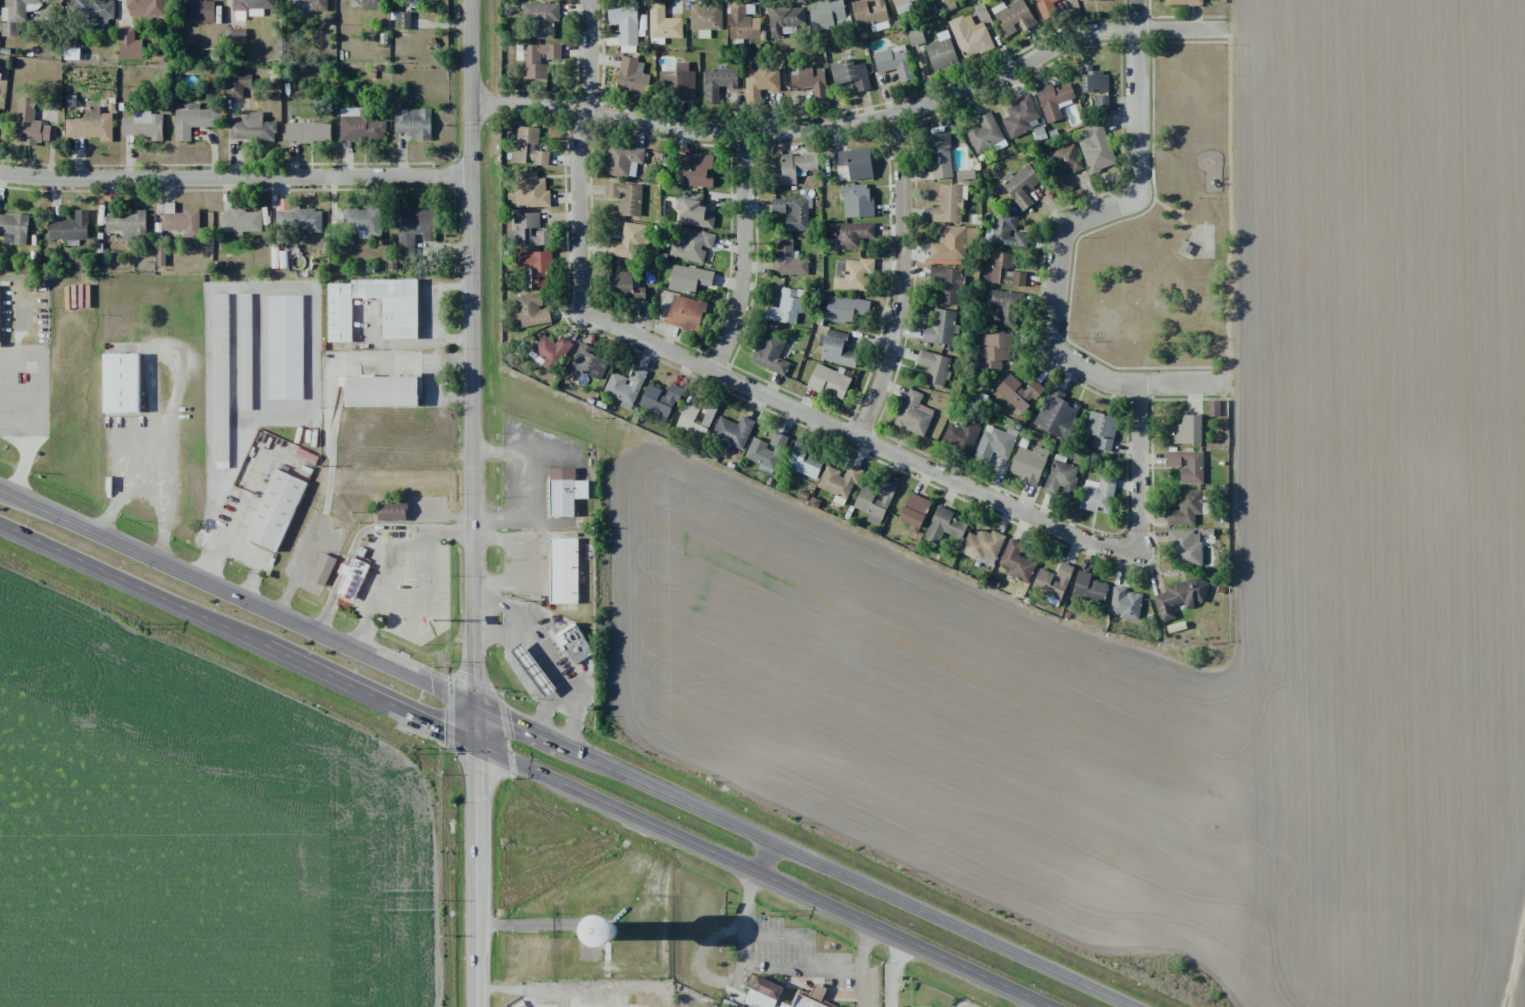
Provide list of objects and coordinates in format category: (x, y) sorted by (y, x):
building: (1091, 0)
building: (1183, 2)
building: (372, 4)
building: (317, 5)
building: (902, 5)
building: (253, 6)
building: (146, 8)
building: (1047, 8)
building: (18, 10)
building: (92, 10)
building: (199, 11)
building: (869, 12)
building: (827, 14)
building: (542, 17)
building: (1014, 18)
building: (705, 19)
building: (403, 20)
building: (784, 20)
building: (663, 23)
building: (742, 24)
building: (624, 25)
building: (915, 36)
building: (970, 36)
building: (129, 45)
building: (201, 49)
building: (941, 53)
building: (538, 59)
building: (894, 62)
building: (850, 74)
building: (632, 77)
building: (807, 79)
building: (1094, 80)
building: (678, 82)
building: (717, 83)
building: (759, 83)
building: (237, 85)
building: (1054, 100)
building: (1101, 102)
building: (1020, 117)
road: (857, 119)
building: (195, 120)
building: (413, 123)
building: (29, 125)
building: (91, 125)
building: (143, 125)
building: (252, 128)
building: (361, 129)
building: (308, 132)
building: (985, 133)
building: (528, 147)
building: (1096, 148)
road: (588, 156)
building: (939, 156)
building: (623, 160)
building: (1065, 164)
building: (853, 165)
building: (794, 168)
building: (697, 170)
road: (236, 178)
building: (1021, 185)
building: (530, 191)
road: (1137, 195)
building: (626, 197)
building: (857, 201)
building: (949, 204)
building: (693, 211)
building: (792, 212)
building: (181, 220)
building: (299, 220)
building: (241, 221)
building: (362, 222)
building: (127, 224)
building: (14, 228)
building: (70, 228)
building: (413, 229)
building: (527, 231)
building: (1008, 232)
building: (852, 235)
building: (629, 241)
building: (692, 245)
building: (950, 247)
building: (160, 253)
road: (745, 257)
building: (788, 258)
building: (536, 267)
building: (1002, 269)
building: (855, 275)
building: (688, 279)
road: (905, 281)
building: (948, 283)
building: (624, 286)
building: (787, 306)
building: (1005, 306)
building: (845, 309)
building: (531, 310)
building: (685, 313)
building: (399, 318)
building: (1, 320)
building: (941, 327)
building: (285, 347)
building: (837, 349)
building: (994, 350)
building: (245, 351)
building: (549, 351)
building: (770, 354)
building: (588, 362)
road: (1100, 367)
building: (934, 368)
road: (474, 371)
building: (222, 378)
building: (828, 381)
road: (1187, 384)
building: (625, 387)
building: (125, 390)
building: (1019, 392)
building: (383, 397)
building: (660, 401)
building: (1213, 408)
building: (913, 414)
building: (1056, 414)
building: (696, 419)
building: (1101, 430)
building: (1187, 430)
building: (732, 432)
building: (961, 437)
road: (859, 442)
building: (994, 444)
building: (766, 452)
building: (805, 462)
building: (1028, 464)
building: (1187, 465)
road: (1143, 469)
building: (1061, 479)
building: (839, 481)
building: (565, 491)
building: (1097, 494)
building: (875, 503)
building: (1185, 508)
building: (392, 511)
building: (278, 512)
building: (914, 512)
building: (945, 525)
crop: (1382, 544)
building: (983, 545)
building: (1185, 547)
building: (1018, 563)
building: (323, 569)
building: (563, 571)
building: (1053, 581)
building: (353, 582)
building: (1089, 588)
building: (1179, 597)
building: (1125, 603)
power tower: (143, 626)
building: (573, 644)
building: (532, 670)
traffic signals: (475, 684)
traffic signals: (511, 724)
traffic signals: (442, 728)
road: (567, 749)
power tower: (414, 750)
road: (527, 766)
traffic signals: (476, 770)
road: (764, 856)
road: (476, 875)
power tower: (770, 911)
road: (782, 968)
crop: (1519, 983)
building: (762, 993)
building: (810, 998)

